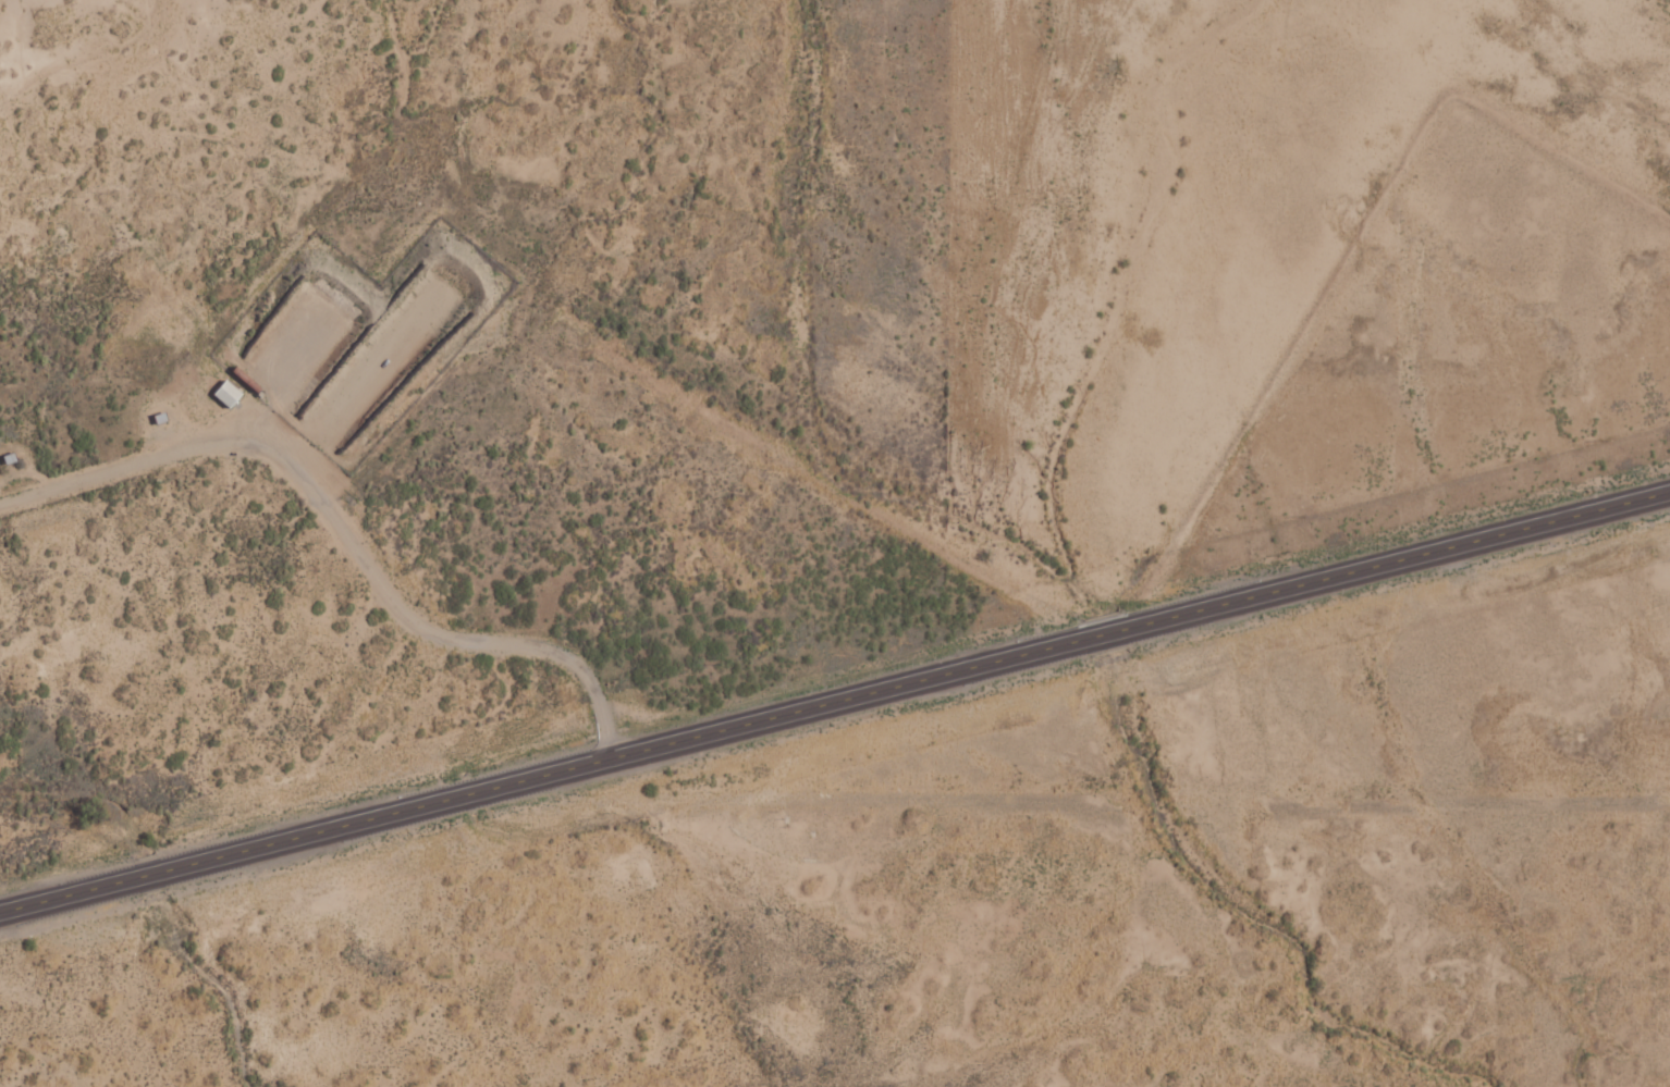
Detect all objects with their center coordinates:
road: (1127, 71)
road: (1621, 75)
road: (834, 701)

